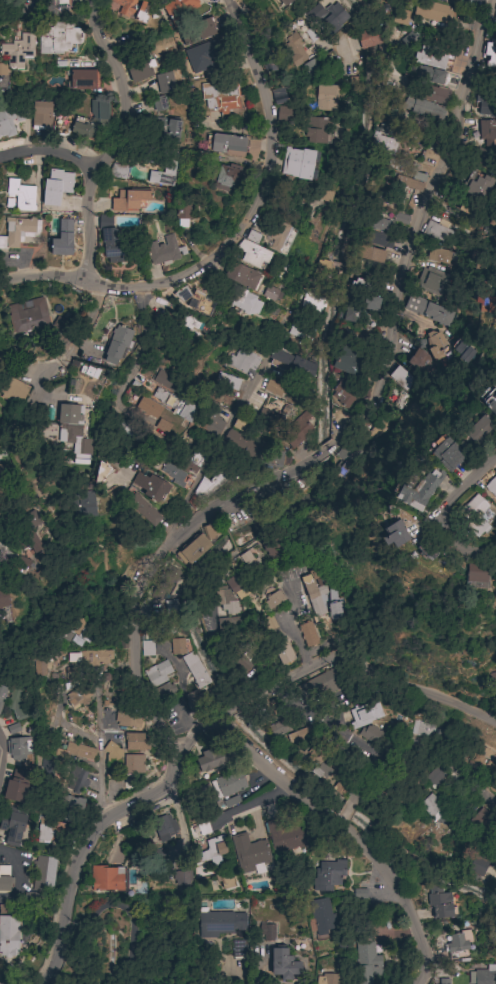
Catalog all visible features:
building: (155, 0)
building: (313, 0)
building: (284, 2)
building: (465, 3)
building: (18, 4)
building: (129, 9)
building: (179, 9)
building: (432, 12)
building: (327, 17)
building: (400, 17)
road: (373, 21)
building: (59, 28)
building: (196, 31)
building: (368, 38)
building: (409, 40)
building: (297, 49)
building: (18, 51)
building: (206, 51)
building: (489, 54)
building: (429, 57)
building: (268, 63)
building: (319, 64)
building: (139, 68)
building: (2, 69)
building: (440, 78)
building: (81, 79)
building: (165, 83)
building: (432, 94)
building: (329, 95)
building: (220, 96)
building: (277, 96)
building: (159, 103)
building: (485, 105)
building: (423, 107)
building: (282, 114)
building: (41, 115)
building: (394, 115)
building: (90, 119)
building: (7, 124)
building: (487, 129)
building: (312, 131)
building: (168, 132)
road: (113, 139)
building: (383, 141)
building: (226, 144)
building: (484, 158)
road: (46, 161)
building: (298, 163)
building: (169, 168)
building: (117, 171)
building: (410, 171)
road: (354, 174)
building: (225, 177)
building: (408, 183)
building: (476, 186)
building: (56, 187)
building: (21, 195)
building: (323, 195)
building: (129, 200)
road: (253, 200)
building: (183, 214)
building: (399, 220)
building: (492, 221)
building: (377, 223)
road: (415, 225)
building: (438, 230)
building: (19, 231)
building: (63, 239)
building: (281, 239)
building: (378, 239)
building: (114, 243)
building: (164, 250)
building: (251, 251)
building: (369, 254)
building: (440, 256)
building: (478, 257)
building: (286, 268)
building: (322, 268)
road: (41, 275)
building: (242, 276)
building: (431, 281)
building: (360, 285)
road: (461, 289)
building: (270, 293)
building: (198, 297)
building: (245, 302)
building: (312, 302)
building: (372, 303)
building: (486, 303)
building: (430, 309)
building: (347, 314)
building: (26, 315)
building: (193, 324)
building: (60, 326)
road: (89, 327)
building: (298, 331)
building: (118, 344)
building: (435, 344)
road: (142, 347)
building: (461, 349)
building: (242, 360)
building: (345, 360)
building: (418, 362)
building: (290, 364)
building: (166, 381)
building: (227, 381)
building: (273, 387)
building: (405, 387)
building: (15, 391)
building: (342, 394)
building: (489, 400)
building: (174, 404)
building: (149, 408)
road: (230, 417)
building: (266, 417)
building: (240, 423)
building: (162, 426)
building: (212, 427)
building: (74, 429)
building: (478, 430)
building: (123, 431)
building: (295, 431)
building: (373, 432)
building: (47, 433)
building: (242, 443)
road: (326, 452)
building: (447, 453)
building: (348, 455)
building: (270, 458)
building: (194, 462)
building: (1, 470)
building: (101, 473)
building: (182, 481)
building: (150, 486)
building: (491, 486)
building: (205, 488)
building: (415, 490)
building: (2, 493)
building: (83, 505)
building: (0, 509)
building: (143, 509)
road: (440, 514)
building: (474, 515)
road: (220, 519)
building: (393, 534)
road: (231, 539)
building: (28, 541)
building: (198, 543)
building: (271, 546)
building: (425, 550)
road: (235, 551)
road: (163, 560)
building: (247, 561)
building: (20, 565)
building: (475, 575)
building: (236, 586)
building: (314, 590)
building: (3, 595)
building: (225, 599)
building: (273, 599)
building: (335, 610)
building: (167, 616)
road: (208, 624)
building: (227, 624)
road: (287, 625)
building: (69, 629)
building: (307, 634)
building: (276, 640)
building: (177, 646)
building: (147, 648)
building: (90, 657)
building: (244, 661)
building: (40, 663)
road: (366, 669)
building: (195, 670)
building: (157, 673)
building: (493, 681)
building: (318, 687)
building: (162, 692)
building: (2, 694)
building: (78, 696)
building: (16, 705)
road: (233, 708)
building: (364, 714)
building: (262, 715)
building: (127, 719)
road: (205, 725)
building: (278, 728)
building: (422, 728)
building: (12, 730)
building: (371, 734)
building: (301, 735)
building: (135, 741)
building: (17, 745)
road: (421, 748)
building: (75, 751)
building: (112, 753)
building: (315, 755)
road: (100, 756)
road: (0, 757)
building: (210, 759)
building: (346, 759)
building: (481, 763)
building: (133, 764)
building: (45, 767)
building: (321, 769)
building: (437, 773)
building: (76, 778)
building: (228, 783)
building: (341, 786)
building: (13, 790)
building: (72, 803)
building: (230, 803)
building: (432, 805)
road: (345, 809)
building: (344, 812)
building: (480, 817)
road: (338, 820)
building: (12, 825)
building: (165, 826)
building: (201, 828)
building: (50, 831)
road: (345, 831)
building: (284, 837)
road: (86, 844)
building: (213, 850)
building: (249, 854)
building: (477, 865)
building: (43, 872)
building: (328, 875)
building: (183, 876)
building: (106, 878)
building: (4, 879)
building: (224, 879)
road: (17, 884)
building: (440, 903)
building: (320, 916)
building: (219, 923)
building: (267, 931)
building: (8, 935)
building: (342, 941)
building: (458, 944)
building: (238, 948)
building: (490, 952)
building: (366, 961)
building: (283, 963)
road: (230, 973)
building: (485, 975)
building: (329, 979)

